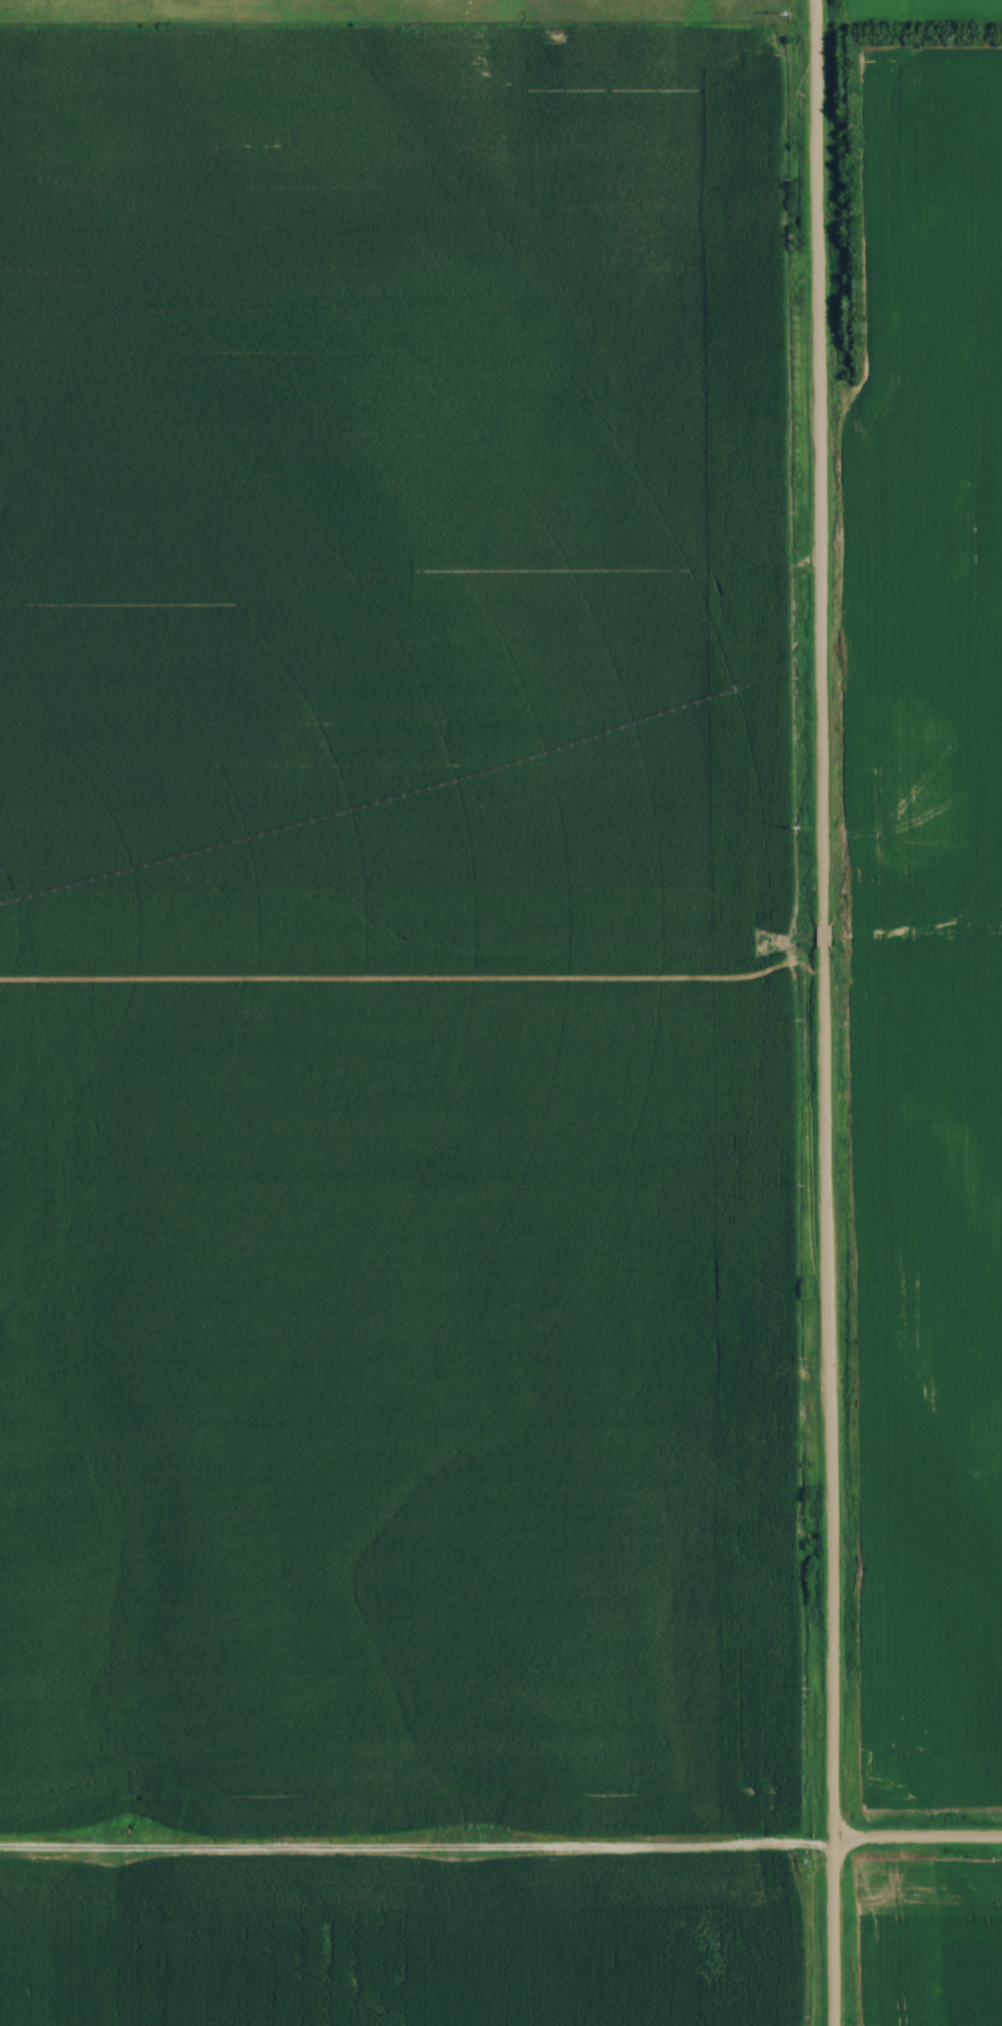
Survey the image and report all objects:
road: (823, 1013)
road: (918, 1835)
road: (417, 1845)

